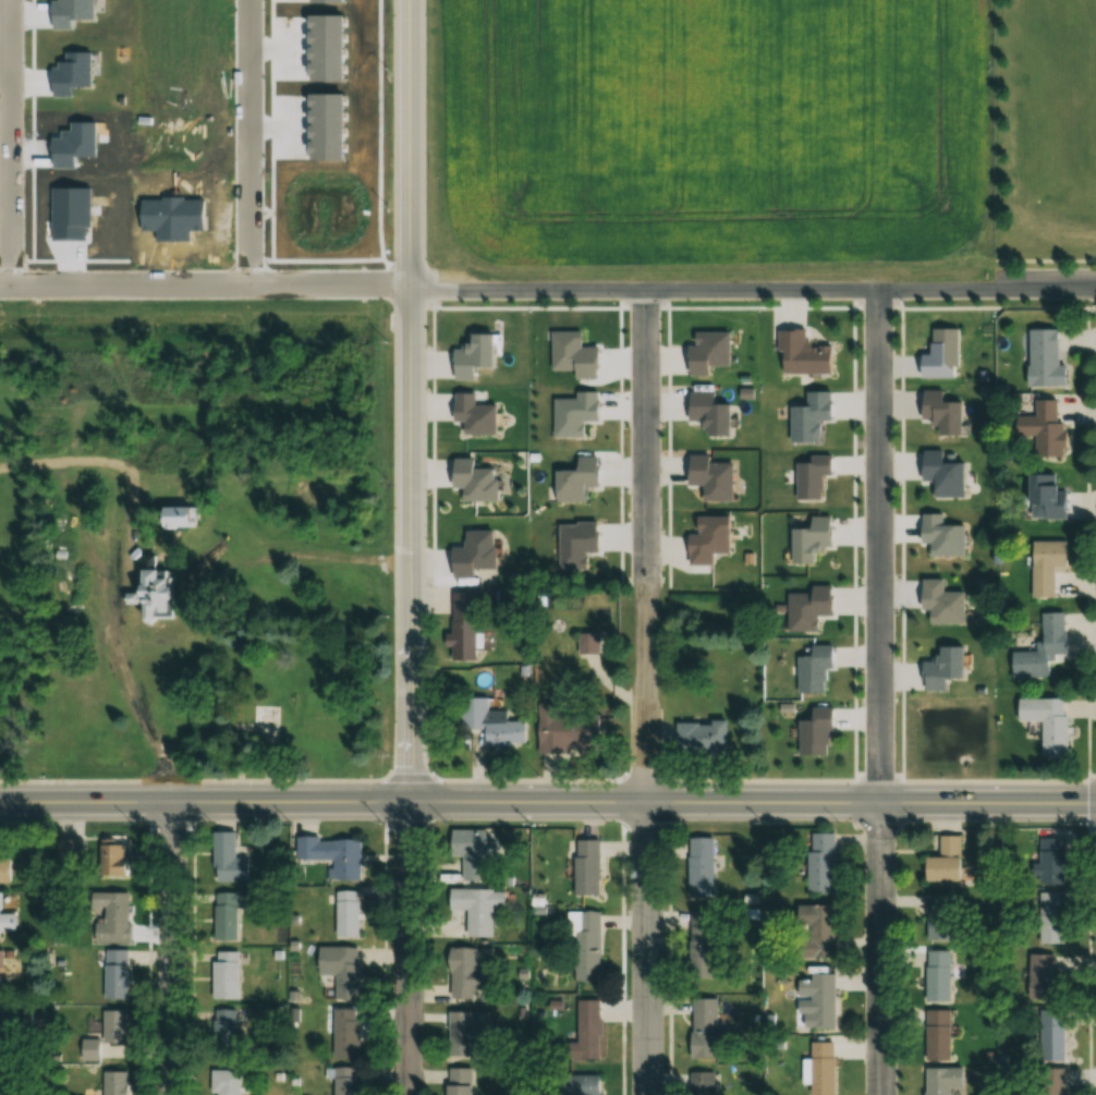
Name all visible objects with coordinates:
park: (1072, 45)
road: (9, 139)
road: (1039, 260)
road: (494, 281)
road: (1042, 282)
road: (246, 317)
building: (1043, 357)
road: (407, 401)
building: (1043, 429)
road: (71, 467)
building: (790, 471)
building: (1045, 497)
building: (125, 503)
road: (645, 510)
road: (877, 543)
road: (261, 560)
building: (1044, 567)
building: (275, 584)
building: (467, 626)
building: (589, 643)
building: (1040, 648)
building: (783, 661)
road: (125, 698)
building: (267, 715)
building: (498, 723)
building: (1045, 723)
building: (318, 725)
building: (572, 730)
building: (706, 738)
road: (288, 780)
road: (84, 781)
road: (527, 781)
road: (987, 781)
road: (763, 782)
road: (547, 804)
building: (477, 855)
building: (337, 856)
building: (233, 861)
building: (941, 861)
building: (1049, 861)
building: (119, 862)
building: (826, 862)
building: (9, 864)
building: (706, 866)
building: (592, 867)
building: (479, 910)
building: (5, 913)
building: (234, 913)
building: (351, 913)
road: (645, 916)
building: (941, 917)
building: (1049, 917)
building: (118, 920)
building: (828, 932)
building: (707, 944)
building: (586, 946)
road: (169, 948)
road: (406, 949)
road: (880, 949)
building: (1, 960)
building: (345, 970)
building: (473, 973)
building: (120, 974)
building: (230, 975)
building: (935, 975)
building: (1037, 976)
building: (816, 1002)
building: (230, 1022)
building: (710, 1023)
building: (119, 1026)
building: (9, 1033)
building: (350, 1033)
building: (464, 1033)
building: (592, 1033)
building: (1049, 1034)
building: (936, 1035)
building: (93, 1049)
building: (825, 1068)
building: (940, 1080)
building: (1, 1081)
building: (349, 1081)
building: (464, 1081)
building: (1048, 1081)
building: (230, 1082)
building: (120, 1083)

